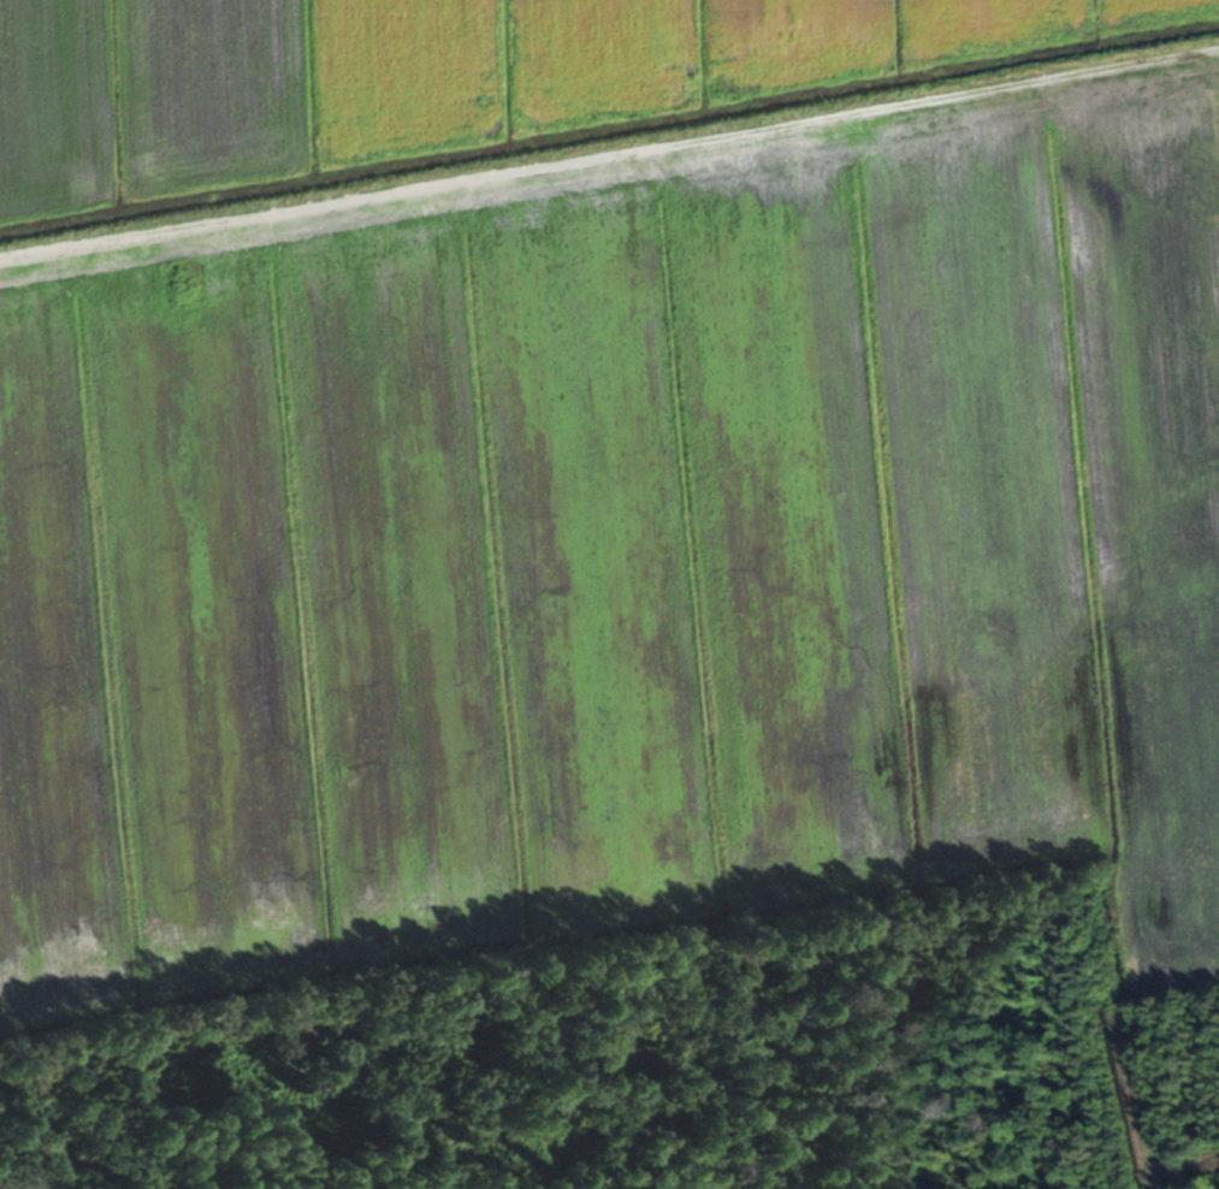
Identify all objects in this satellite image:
road: (609, 148)

